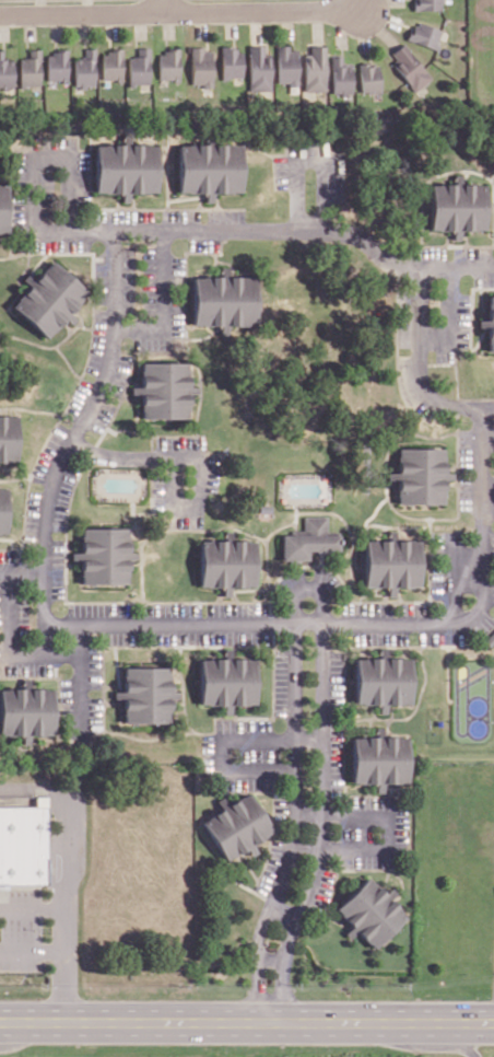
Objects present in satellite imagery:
road: (354, 4)
building: (428, 4)
road: (89, 5)
road: (163, 5)
road: (42, 7)
road: (176, 10)
road: (285, 22)
road: (141, 23)
road: (169, 23)
road: (201, 23)
road: (232, 23)
road: (58, 24)
road: (85, 24)
road: (113, 24)
road: (4, 25)
road: (31, 25)
street lamp: (44, 25)
road: (257, 25)
building: (425, 35)
street lamp: (369, 37)
building: (232, 62)
building: (58, 65)
building: (113, 65)
building: (169, 65)
building: (285, 65)
building: (140, 67)
building: (202, 67)
building: (409, 67)
building: (258, 68)
building: (86, 69)
building: (314, 69)
building: (32, 70)
building: (7, 71)
building: (340, 77)
building: (368, 78)
road: (314, 158)
building: (212, 166)
building: (128, 167)
street lamp: (46, 169)
road: (34, 176)
building: (457, 206)
building: (4, 207)
parking lot: (180, 214)
parking lot: (224, 214)
street lamp: (249, 217)
road: (274, 231)
parking lot: (203, 243)
road: (214, 258)
road: (221, 259)
street lamp: (86, 262)
road: (458, 268)
parking lot: (101, 278)
building: (50, 298)
road: (161, 299)
building: (224, 299)
road: (471, 306)
parking lot: (463, 318)
road: (185, 320)
building: (489, 322)
road: (202, 336)
street lamp: (128, 346)
parking lot: (444, 353)
road: (437, 362)
road: (455, 372)
road: (127, 379)
building: (165, 387)
street lamp: (466, 420)
road: (83, 422)
road: (481, 425)
street lamp: (89, 432)
road: (151, 434)
building: (5, 440)
parking lot: (180, 441)
road: (151, 445)
road: (192, 457)
parking lot: (211, 472)
building: (423, 475)
street lamp: (40, 486)
road: (151, 493)
road: (458, 504)
road: (148, 506)
road: (489, 507)
building: (4, 508)
road: (293, 515)
road: (172, 527)
road: (361, 527)
building: (309, 537)
building: (106, 554)
parking lot: (12, 556)
building: (393, 561)
building: (225, 562)
road: (23, 566)
parking lot: (58, 567)
road: (308, 586)
road: (139, 600)
parking lot: (99, 607)
parking lot: (169, 607)
parking lot: (366, 607)
parking lot: (413, 607)
parking lot: (238, 608)
street lamp: (60, 609)
street lamp: (203, 612)
road: (260, 624)
street lamp: (414, 632)
parking lot: (211, 636)
parking lot: (374, 636)
parking lot: (440, 636)
road: (16, 652)
parking lot: (94, 666)
street lamp: (69, 671)
building: (227, 679)
parking lot: (281, 679)
building: (384, 679)
road: (79, 685)
building: (149, 693)
park: (471, 699)
parking lot: (66, 706)
building: (27, 709)
parking lot: (336, 720)
road: (310, 734)
road: (222, 754)
street lamp: (234, 754)
parking lot: (242, 755)
building: (379, 758)
road: (309, 813)
building: (238, 825)
road: (295, 825)
road: (322, 825)
street lamp: (329, 829)
parking lot: (370, 829)
road: (390, 833)
building: (24, 841)
road: (307, 848)
parking lot: (270, 866)
road: (64, 876)
parking lot: (320, 891)
road: (32, 907)
road: (283, 913)
building: (364, 915)
street lamp: (35, 929)
parking lot: (21, 930)
road: (32, 949)
road: (273, 959)
road: (247, 1022)
road: (462, 1041)

